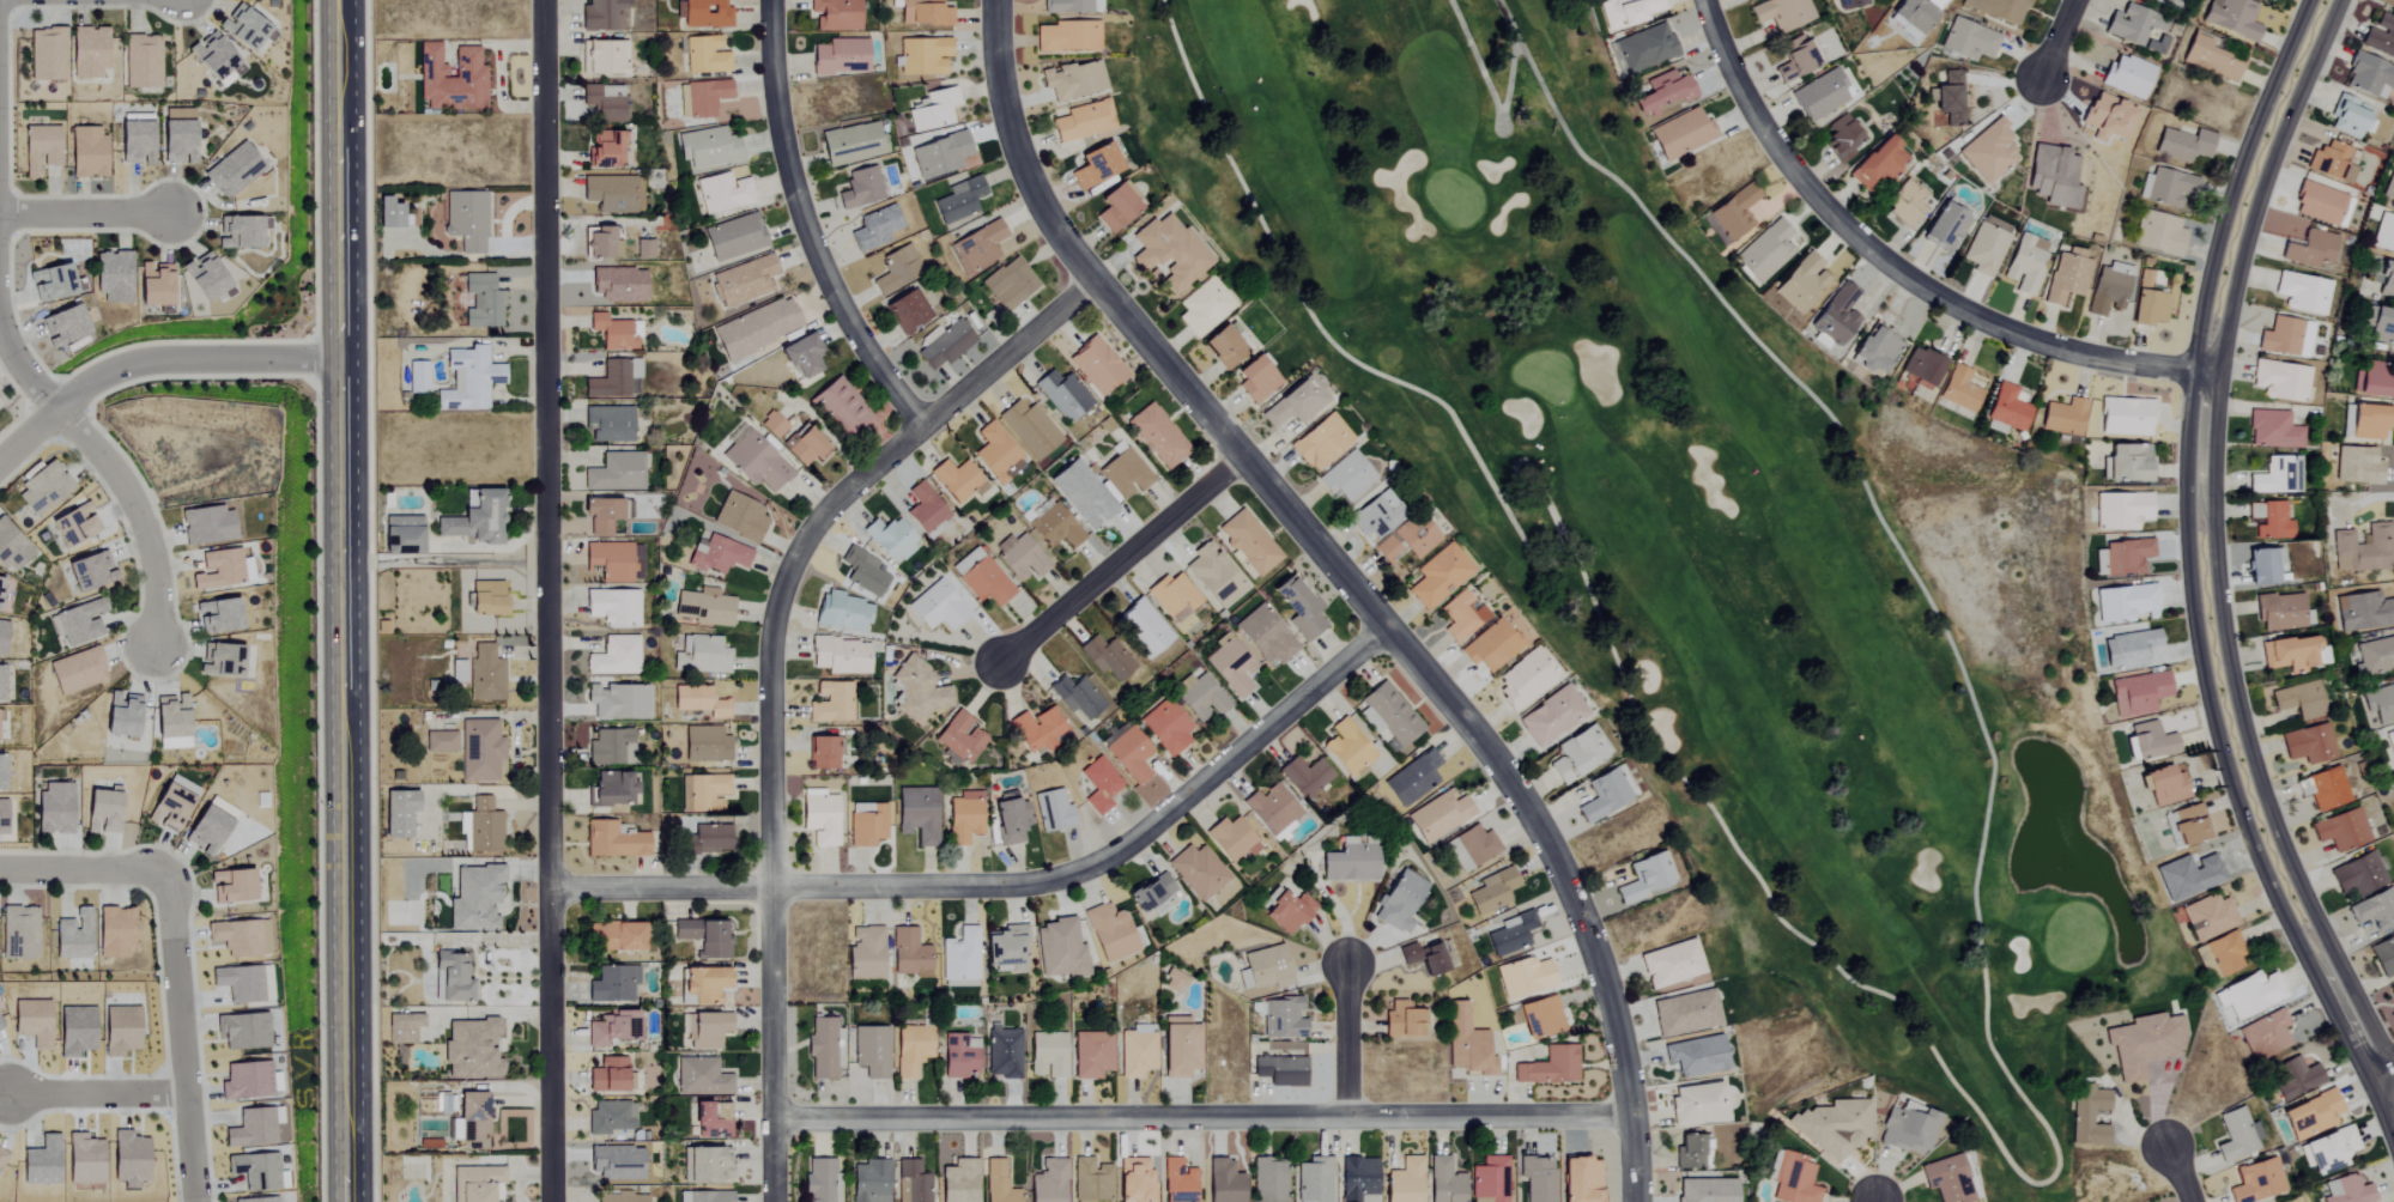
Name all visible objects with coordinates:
building: (2144, 0)
building: (1850, 4)
building: (2386, 4)
building: (1071, 6)
building: (1998, 8)
building: (1635, 10)
building: (703, 13)
building: (923, 13)
building: (1781, 13)
building: (836, 14)
building: (602, 16)
building: (1913, 16)
building: (2135, 28)
building: (241, 29)
building: (2380, 36)
building: (1067, 37)
building: (1968, 41)
road: (2056, 43)
building: (1644, 49)
building: (86, 53)
building: (46, 55)
building: (704, 55)
building: (211, 56)
building: (840, 56)
building: (922, 56)
building: (2210, 59)
building: (601, 60)
building: (141, 62)
building: (1795, 62)
building: (2126, 77)
building: (2369, 77)
building: (449, 79)
building: (1073, 80)
building: (1659, 93)
building: (701, 98)
building: (1947, 101)
building: (605, 103)
building: (933, 110)
building: (2347, 117)
building: (2107, 119)
building: (1083, 121)
building: (1680, 135)
building: (176, 136)
building: (134, 138)
building: (1842, 138)
building: (850, 145)
building: (2183, 145)
building: (708, 147)
building: (38, 150)
building: (607, 151)
building: (1988, 152)
building: (86, 153)
building: (939, 156)
building: (2332, 163)
building: (1877, 164)
building: (1095, 168)
building: (231, 171)
building: (2053, 177)
road: (339, 180)
building: (2388, 187)
building: (2165, 188)
building: (860, 189)
building: (722, 193)
building: (613, 194)
building: (958, 201)
building: (1904, 205)
building: (2322, 205)
building: (1115, 208)
road: (83, 211)
building: (1729, 215)
building: (393, 217)
building: (466, 221)
road: (813, 225)
building: (874, 229)
building: (1946, 229)
building: (241, 233)
building: (2159, 235)
building: (2383, 235)
building: (733, 237)
building: (599, 244)
building: (980, 245)
building: (1987, 245)
building: (643, 250)
building: (2310, 250)
building: (1168, 253)
building: (1764, 253)
building: (2025, 263)
road: (1893, 268)
building: (896, 269)
building: (2067, 277)
building: (111, 278)
building: (202, 278)
building: (743, 281)
building: (2386, 281)
building: (51, 284)
building: (1008, 284)
building: (1801, 284)
building: (617, 285)
building: (152, 286)
building: (2108, 290)
building: (2302, 293)
building: (2148, 300)
building: (481, 303)
building: (1202, 306)
building: (905, 311)
building: (1836, 315)
building: (63, 327)
building: (2381, 327)
building: (756, 328)
building: (613, 332)
building: (2285, 338)
building: (945, 345)
building: (1223, 346)
building: (1874, 352)
building: (799, 356)
road: (150, 359)
building: (1096, 365)
building: (1921, 369)
building: (417, 377)
building: (469, 378)
building: (1255, 378)
building: (2371, 378)
building: (614, 380)
building: (2280, 380)
building: (1904, 386)
building: (1959, 389)
building: (1061, 395)
building: (1295, 402)
building: (840, 406)
building: (2008, 407)
building: (2063, 417)
building: (2125, 417)
building: (2366, 421)
building: (608, 423)
building: (772, 425)
building: (1028, 427)
building: (2273, 430)
building: (1157, 436)
building: (1320, 442)
building: (805, 447)
building: (996, 451)
building: (754, 462)
building: (2123, 462)
building: (2357, 465)
building: (616, 472)
building: (1123, 472)
building: (2277, 475)
building: (1345, 476)
road: (119, 478)
building: (957, 479)
building: (42, 487)
building: (1081, 492)
building: (925, 510)
building: (2121, 510)
building: (599, 516)
building: (739, 516)
building: (1376, 516)
building: (473, 517)
building: (2269, 520)
building: (73, 523)
building: (205, 524)
building: (1054, 526)
building: (401, 535)
park: (1699, 535)
building: (890, 538)
building: (1407, 539)
building: (1248, 542)
building: (11, 548)
building: (2363, 550)
building: (719, 556)
building: (1019, 557)
building: (2122, 557)
road: (463, 559)
road: (1122, 559)
building: (610, 560)
road: (2205, 563)
building: (2263, 566)
building: (220, 569)
building: (87, 571)
building: (862, 571)
building: (1213, 575)
building: (981, 576)
building: (1438, 576)
road: (1348, 583)
building: (1172, 596)
building: (485, 597)
road: (551, 600)
building: (2125, 602)
building: (937, 606)
building: (612, 607)
building: (703, 607)
building: (1297, 607)
building: (842, 612)
building: (2280, 612)
building: (217, 615)
building: (1461, 615)
building: (79, 621)
building: (1143, 626)
building: (1, 635)
building: (1265, 637)
building: (1490, 645)
building: (2128, 649)
building: (2287, 654)
building: (701, 655)
building: (2376, 655)
building: (614, 656)
building: (840, 656)
building: (1105, 657)
building: (223, 658)
building: (1230, 668)
building: (75, 670)
building: (456, 670)
road: (781, 673)
building: (485, 675)
building: (1523, 679)
building: (1, 682)
building: (7, 684)
building: (915, 688)
building: (2138, 693)
building: (1077, 697)
building: (1201, 698)
building: (2293, 699)
building: (698, 700)
building: (617, 702)
building: (829, 703)
building: (2380, 704)
building: (120, 714)
building: (1390, 714)
building: (1550, 716)
building: (169, 722)
building: (1164, 727)
building: (1037, 729)
building: (959, 737)
building: (2150, 741)
building: (2390, 742)
building: (2308, 743)
building: (704, 745)
building: (608, 746)
building: (479, 749)
building: (1347, 749)
building: (820, 753)
building: (1128, 755)
building: (1575, 755)
building: (1, 772)
building: (1305, 777)
building: (1412, 778)
road: (343, 781)
building: (2393, 783)
building: (1099, 785)
building: (2165, 785)
building: (612, 789)
building: (2323, 789)
building: (703, 793)
building: (1604, 794)
building: (169, 802)
building: (53, 808)
building: (1053, 811)
building: (1272, 811)
building: (101, 812)
building: (398, 813)
building: (917, 815)
building: (1438, 815)
building: (1, 816)
building: (818, 816)
building: (964, 818)
building: (1010, 819)
building: (207, 825)
building: (2189, 825)
building: (480, 826)
building: (868, 826)
building: (2341, 830)
building: (705, 839)
building: (1231, 839)
building: (612, 840)
building: (1471, 848)
building: (1350, 861)
road: (83, 872)
building: (1196, 872)
building: (2359, 874)
building: (2188, 875)
building: (1644, 878)
building: (230, 886)
road: (1016, 886)
building: (1492, 891)
building: (1148, 892)
building: (474, 899)
building: (1399, 900)
building: (2375, 910)
building: (1286, 912)
building: (2208, 917)
building: (19, 933)
building: (113, 933)
building: (1109, 933)
building: (1510, 934)
building: (72, 936)
building: (241, 937)
building: (614, 937)
building: (703, 937)
building: (1005, 949)
building: (1059, 949)
building: (865, 953)
building: (2224, 953)
building: (909, 954)
building: (960, 955)
building: (2383, 955)
building: (1428, 958)
building: (1671, 964)
building: (1267, 967)
building: (454, 977)
building: (1523, 977)
building: (1172, 982)
building: (242, 983)
building: (612, 984)
building: (701, 985)
building: (2392, 991)
building: (2249, 994)
building: (1685, 1013)
building: (1540, 1018)
building: (1283, 1019)
building: (1402, 1020)
building: (31, 1022)
building: (404, 1028)
building: (0, 1030)
building: (612, 1030)
building: (708, 1030)
building: (73, 1031)
building: (117, 1031)
building: (242, 1032)
building: (2265, 1036)
road: (178, 1038)
road: (1350, 1039)
building: (1466, 1043)
building: (2144, 1044)
building: (824, 1048)
building: (1180, 1048)
building: (911, 1049)
building: (471, 1050)
building: (871, 1051)
building: (1002, 1054)
building: (1137, 1054)
building: (1048, 1055)
building: (1092, 1055)
building: (959, 1056)
building: (1696, 1056)
building: (1548, 1067)
building: (1280, 1070)
road: (2387, 1070)
building: (610, 1076)
building: (701, 1077)
building: (2296, 1077)
building: (246, 1081)
road: (96, 1091)
building: (1696, 1104)
road: (1205, 1113)
building: (2089, 1116)
building: (2310, 1116)
building: (610, 1117)
building: (469, 1119)
building: (710, 1119)
building: (1832, 1127)
building: (1908, 1129)
building: (2236, 1135)
building: (2327, 1151)
building: (1690, 1152)
building: (1, 1155)
building: (127, 1159)
building: (81, 1160)
building: (41, 1162)
building: (614, 1162)
building: (705, 1165)
building: (256, 1171)
road: (2180, 1173)
building: (1538, 1178)
building: (1357, 1179)
building: (1580, 1179)
building: (1947, 1179)
building: (819, 1180)
building: (958, 1180)
building: (1091, 1180)
building: (1269, 1180)
building: (1489, 1180)
building: (1794, 1180)
building: (869, 1182)
building: (911, 1182)
building: (1048, 1182)
building: (1177, 1182)
building: (1223, 1182)
building: (1405, 1182)
building: (1444, 1182)
building: (2256, 1182)
building: (1705, 1190)
building: (2347, 1190)
building: (704, 1196)
building: (254, 1200)
road: (1873, 1201)

